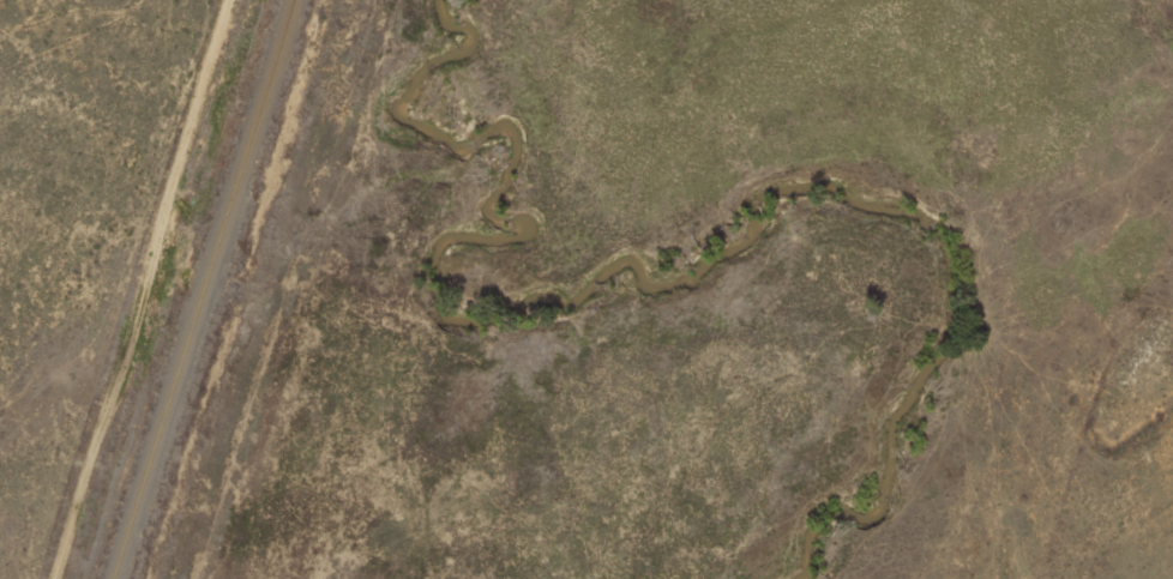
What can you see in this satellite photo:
railway: (204, 290)

